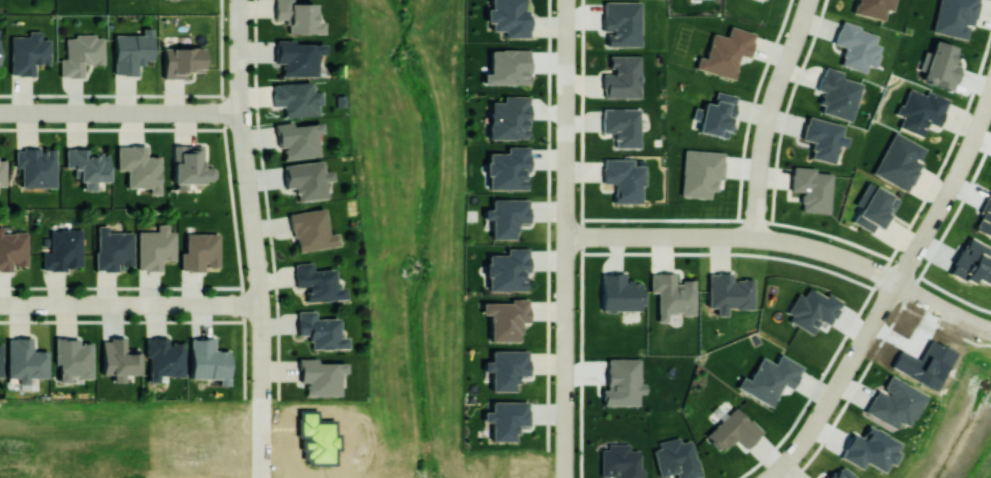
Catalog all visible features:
road: (238, 7)
building: (872, 7)
building: (298, 16)
building: (508, 17)
building: (954, 17)
building: (621, 23)
building: (855, 46)
building: (132, 51)
building: (725, 51)
building: (28, 52)
building: (81, 54)
building: (297, 57)
building: (181, 61)
building: (940, 65)
building: (507, 66)
building: (622, 77)
building: (836, 93)
building: (295, 98)
building: (920, 110)
road: (119, 112)
building: (717, 115)
road: (767, 115)
building: (508, 117)
building: (621, 126)
road: (112, 128)
road: (224, 133)
building: (822, 138)
road: (241, 139)
building: (297, 139)
road: (965, 152)
building: (899, 161)
building: (189, 164)
building: (86, 165)
building: (35, 166)
building: (138, 167)
building: (507, 168)
building: (2, 171)
building: (700, 171)
building: (306, 179)
building: (624, 179)
building: (811, 188)
building: (872, 207)
building: (506, 216)
park: (411, 228)
building: (310, 229)
road: (734, 236)
road: (565, 238)
building: (155, 247)
building: (12, 248)
building: (113, 248)
road: (915, 248)
building: (63, 249)
building: (199, 251)
road: (886, 264)
building: (507, 269)
building: (317, 282)
road: (259, 283)
building: (620, 292)
building: (728, 292)
building: (672, 294)
road: (1, 303)
road: (26, 304)
road: (92, 304)
road: (138, 304)
road: (159, 304)
road: (182, 304)
road: (224, 304)
road: (938, 305)
building: (812, 309)
building: (505, 318)
road: (986, 328)
building: (319, 330)
building: (163, 357)
building: (72, 358)
building: (118, 358)
building: (0, 360)
building: (24, 360)
building: (207, 360)
building: (505, 368)
building: (320, 376)
building: (769, 378)
building: (622, 381)
road: (836, 383)
road: (261, 390)
park: (968, 391)
building: (893, 402)
building: (505, 419)
road: (834, 420)
building: (733, 429)
building: (869, 448)
building: (676, 458)
building: (619, 461)

